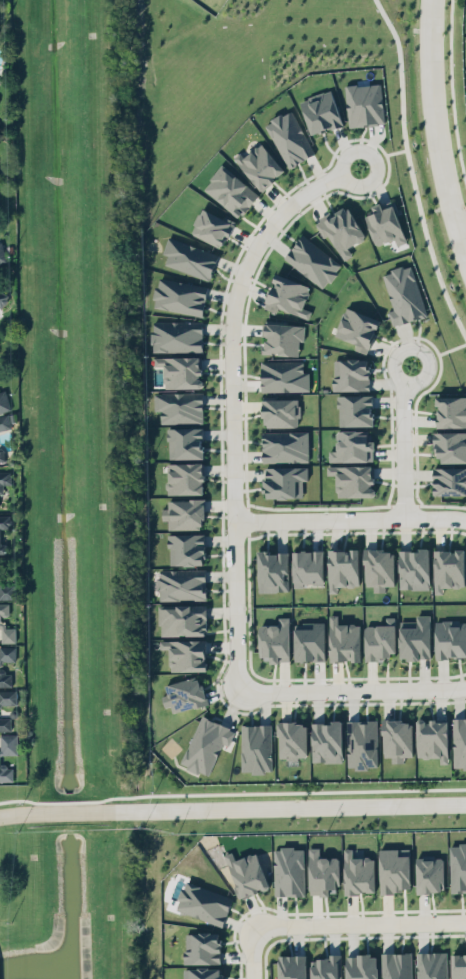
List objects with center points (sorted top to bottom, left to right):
road: (450, 93)
building: (363, 106)
building: (321, 112)
road: (436, 129)
building: (290, 139)
building: (260, 167)
road: (408, 172)
building: (230, 185)
building: (212, 221)
building: (384, 226)
building: (342, 233)
building: (2, 251)
building: (189, 258)
building: (313, 262)
building: (179, 292)
building: (2, 295)
building: (288, 295)
building: (404, 297)
building: (357, 330)
building: (177, 336)
building: (282, 338)
building: (181, 371)
building: (281, 374)
building: (351, 377)
road: (232, 398)
building: (4, 401)
building: (180, 406)
building: (451, 407)
building: (278, 408)
building: (355, 409)
building: (4, 422)
road: (403, 437)
building: (184, 440)
building: (449, 442)
building: (350, 443)
building: (283, 444)
building: (1, 454)
building: (184, 474)
building: (354, 477)
building: (4, 479)
building: (449, 479)
building: (284, 481)
building: (183, 510)
road: (350, 516)
building: (1, 533)
building: (186, 549)
building: (379, 564)
building: (308, 565)
building: (343, 568)
building: (414, 568)
building: (448, 569)
building: (273, 571)
building: (181, 581)
building: (7, 589)
building: (182, 619)
building: (2, 621)
building: (450, 635)
building: (416, 636)
building: (309, 639)
building: (275, 640)
building: (343, 640)
building: (380, 640)
building: (184, 648)
building: (7, 653)
building: (5, 678)
road: (351, 686)
building: (181, 690)
building: (8, 697)
building: (5, 723)
building: (291, 736)
building: (397, 736)
building: (460, 738)
building: (327, 739)
building: (432, 739)
building: (362, 740)
building: (207, 743)
building: (8, 744)
building: (256, 747)
building: (6, 772)
road: (232, 793)
road: (232, 804)
building: (457, 867)
building: (394, 869)
building: (322, 870)
building: (288, 871)
building: (247, 873)
building: (359, 873)
building: (429, 873)
building: (203, 903)
road: (358, 920)
building: (201, 944)
road: (250, 951)
building: (289, 964)
building: (430, 964)
building: (396, 965)
building: (458, 965)
building: (361, 966)
building: (326, 967)
building: (202, 973)

